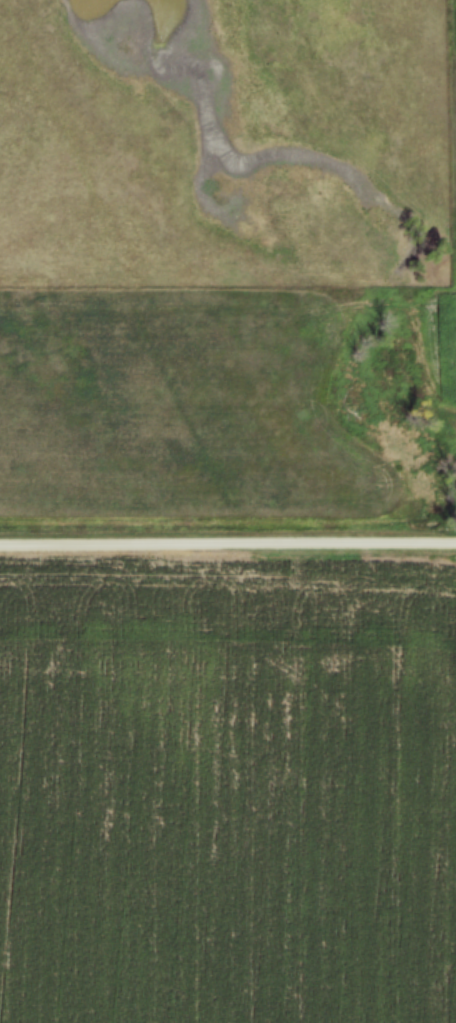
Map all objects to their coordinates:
road: (228, 539)

